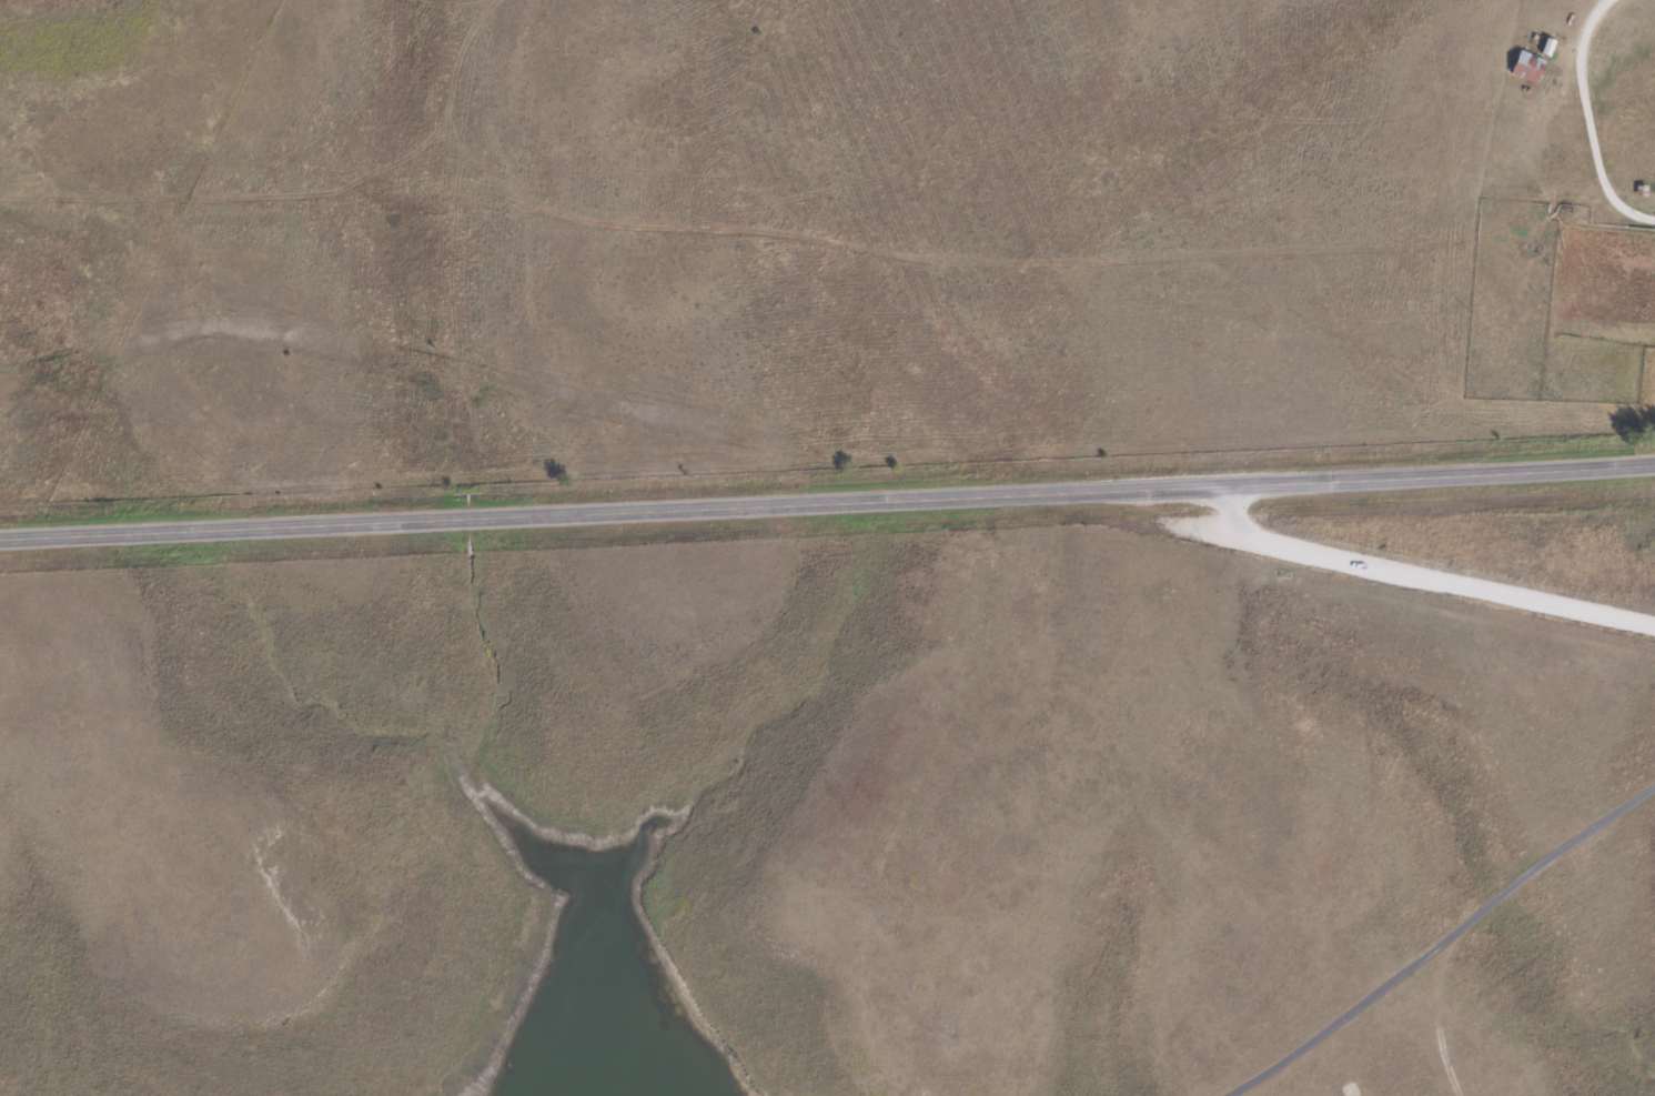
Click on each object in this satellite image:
building: (1528, 66)
road: (827, 505)
road: (1392, 577)
road: (1442, 936)

